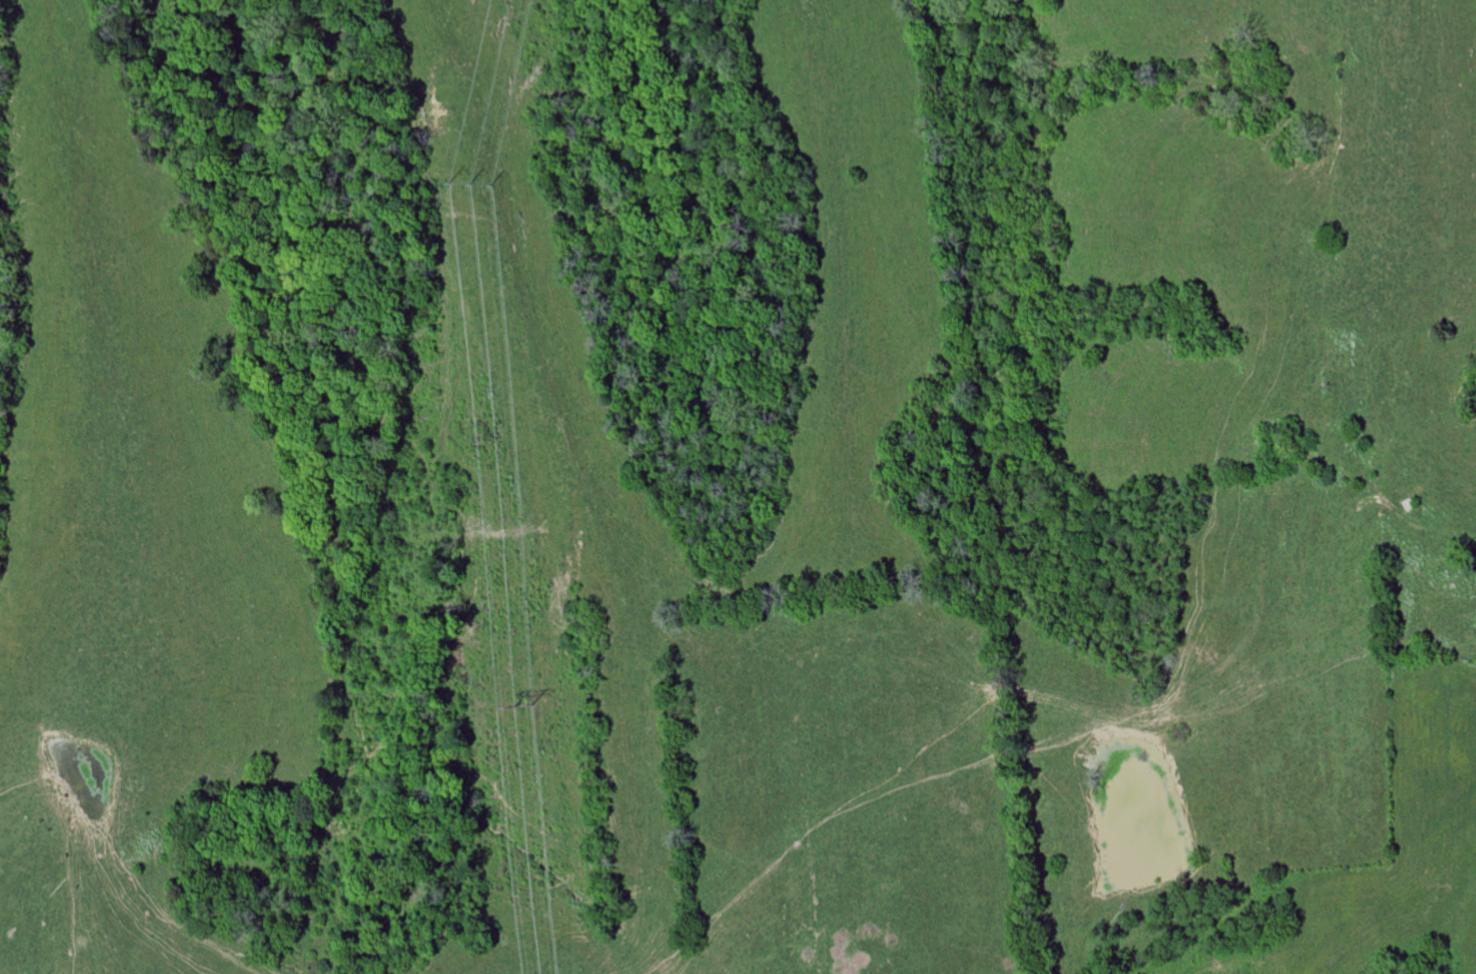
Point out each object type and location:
power tower: (470, 187)
power tower: (522, 709)

